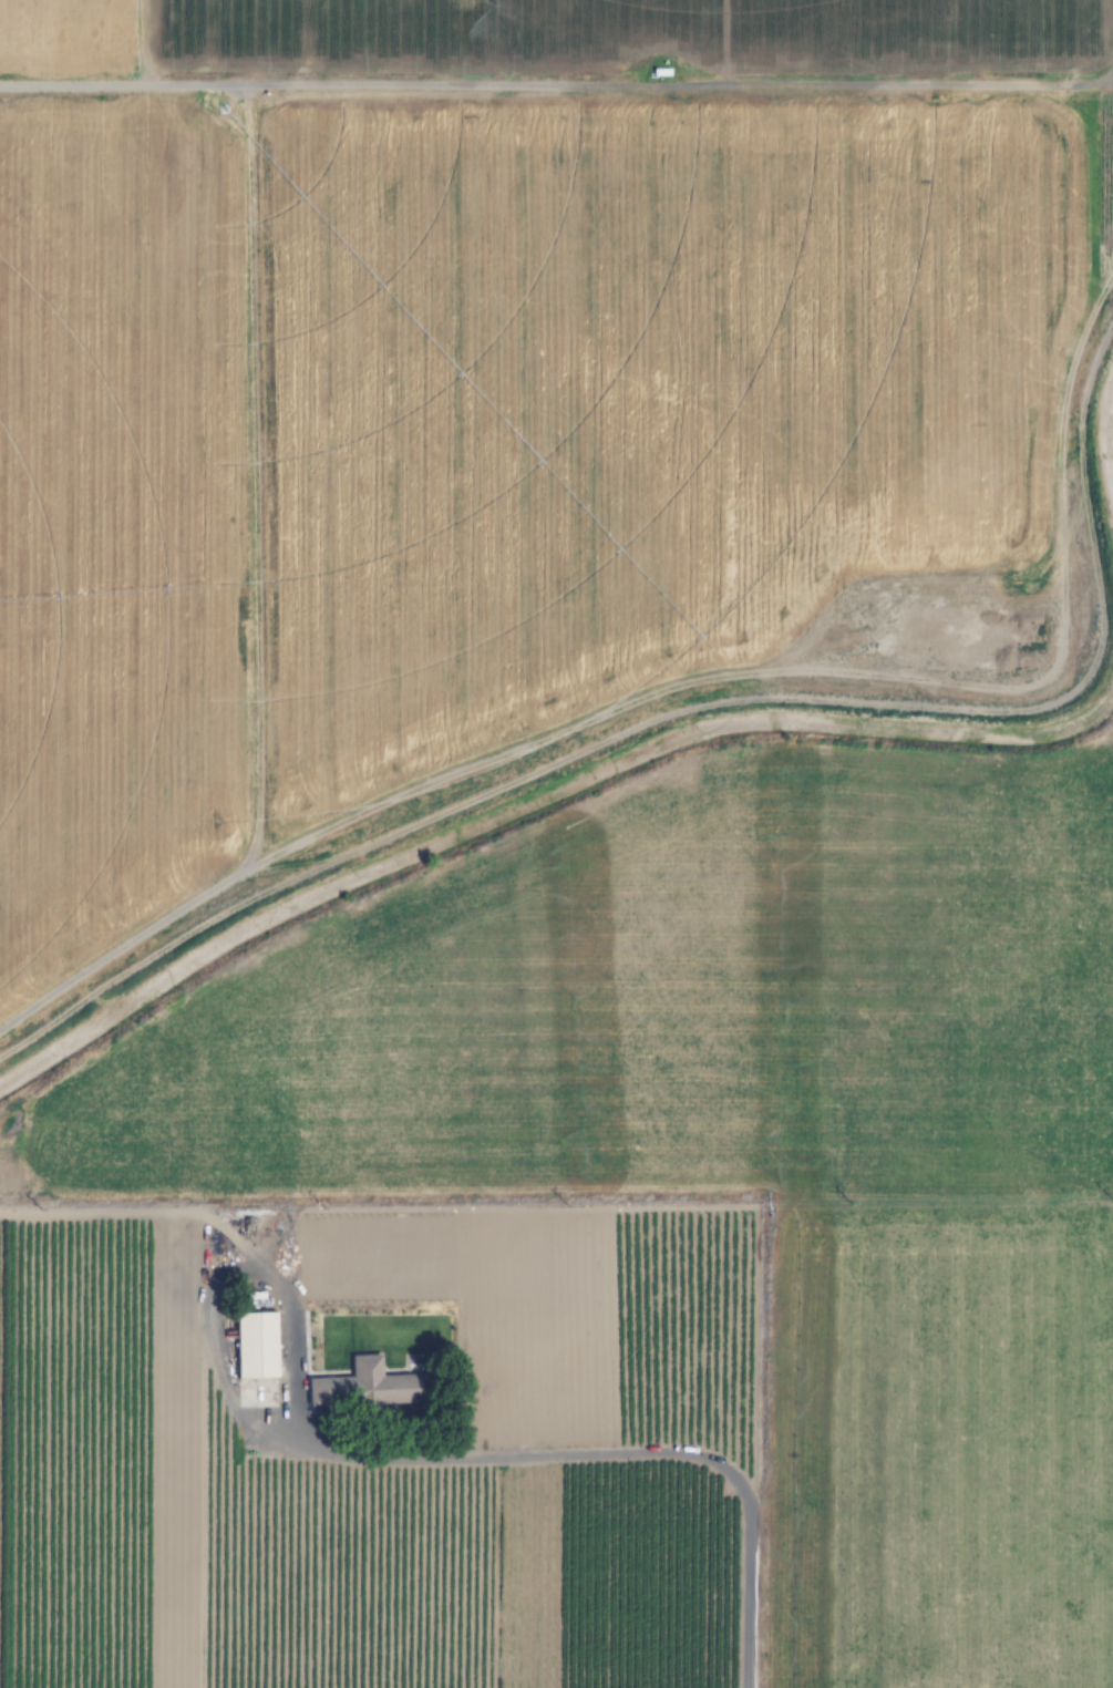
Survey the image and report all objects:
building: (993, 667)
road: (708, 709)
building: (258, 1346)
building: (369, 1388)

